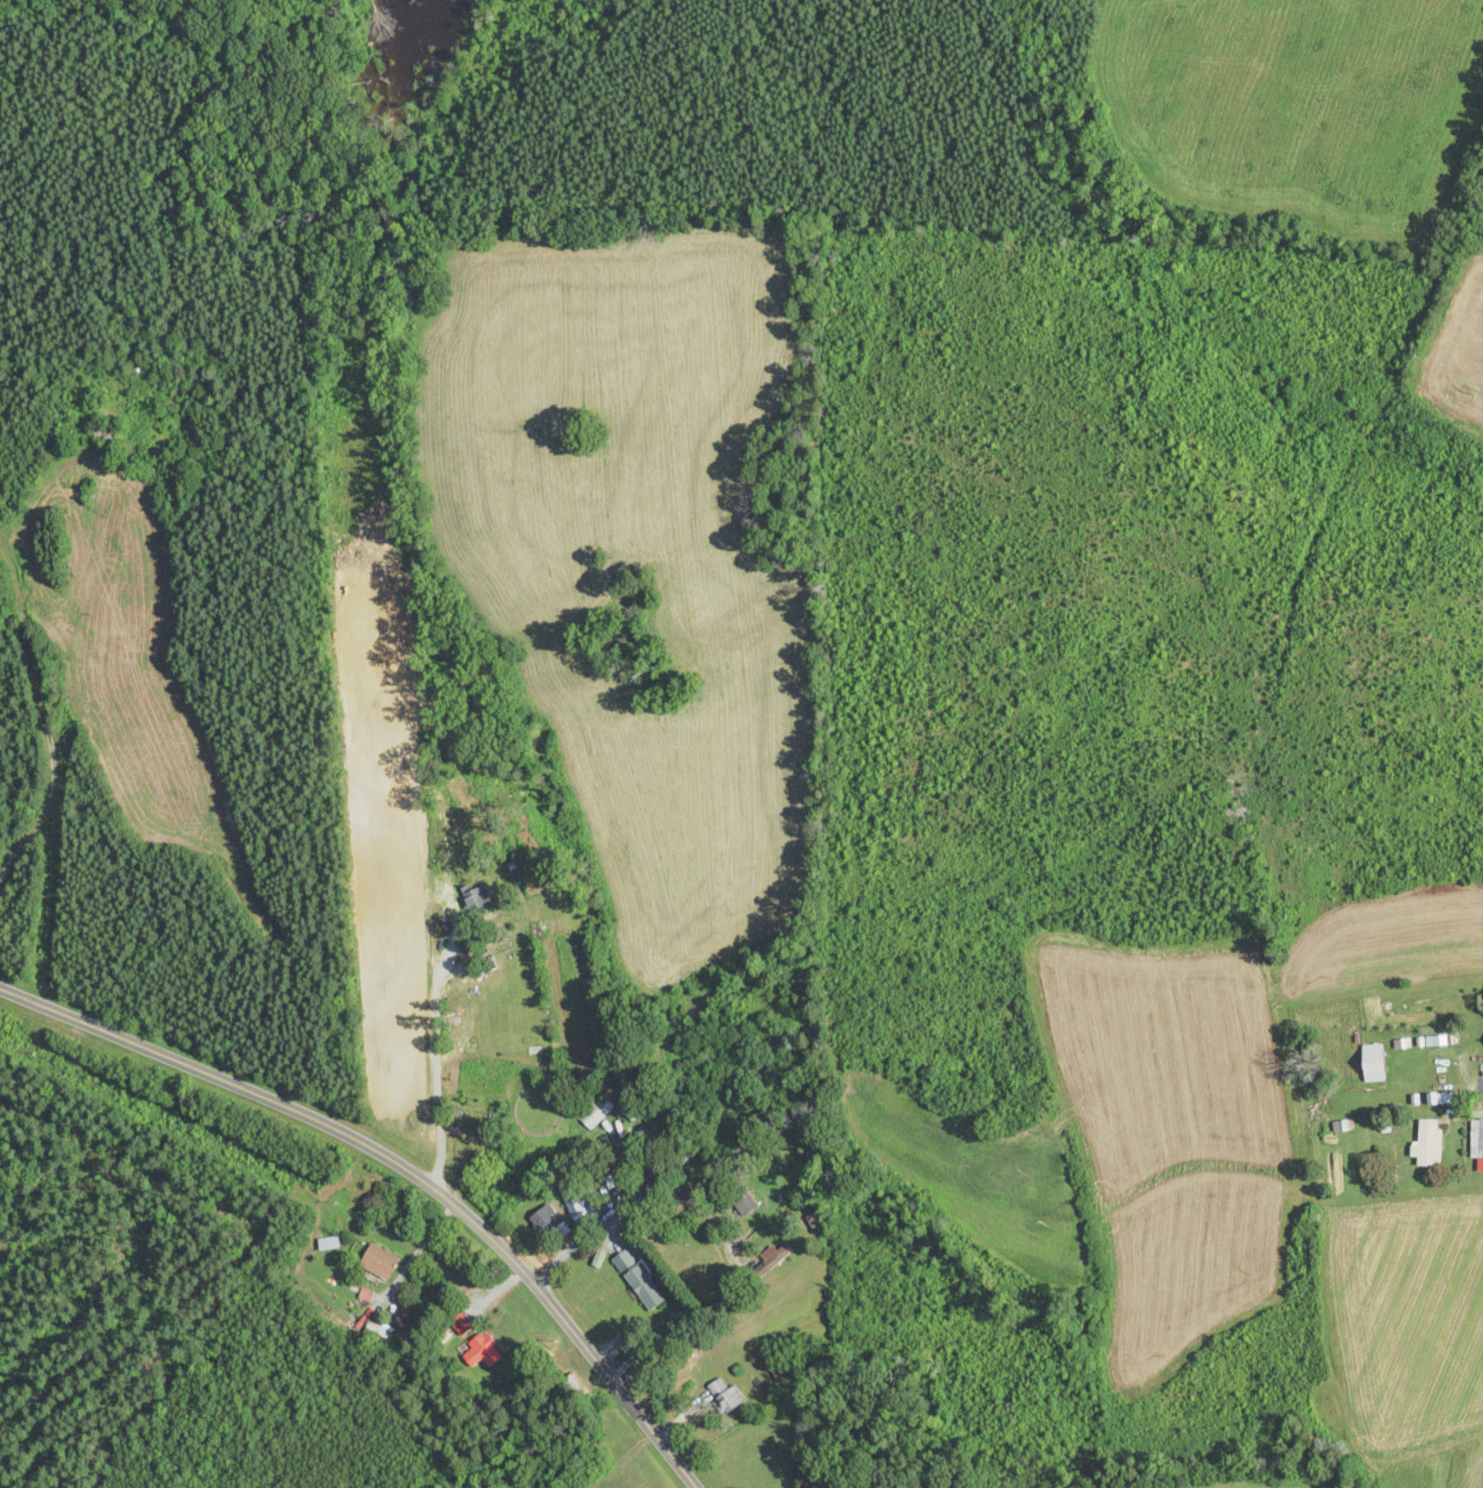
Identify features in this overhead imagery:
building: (104, 435)
road: (44, 714)
building: (1374, 1063)
building: (596, 1112)
building: (631, 1112)
building: (472, 1137)
building: (1476, 1139)
building: (1429, 1144)
road: (400, 1166)
building: (782, 1175)
building: (656, 1184)
building: (745, 1202)
building: (580, 1206)
building: (545, 1218)
building: (329, 1243)
building: (773, 1260)
building: (380, 1262)
building: (639, 1280)
building: (481, 1350)
building: (784, 1373)
building: (575, 1388)
building: (726, 1396)

